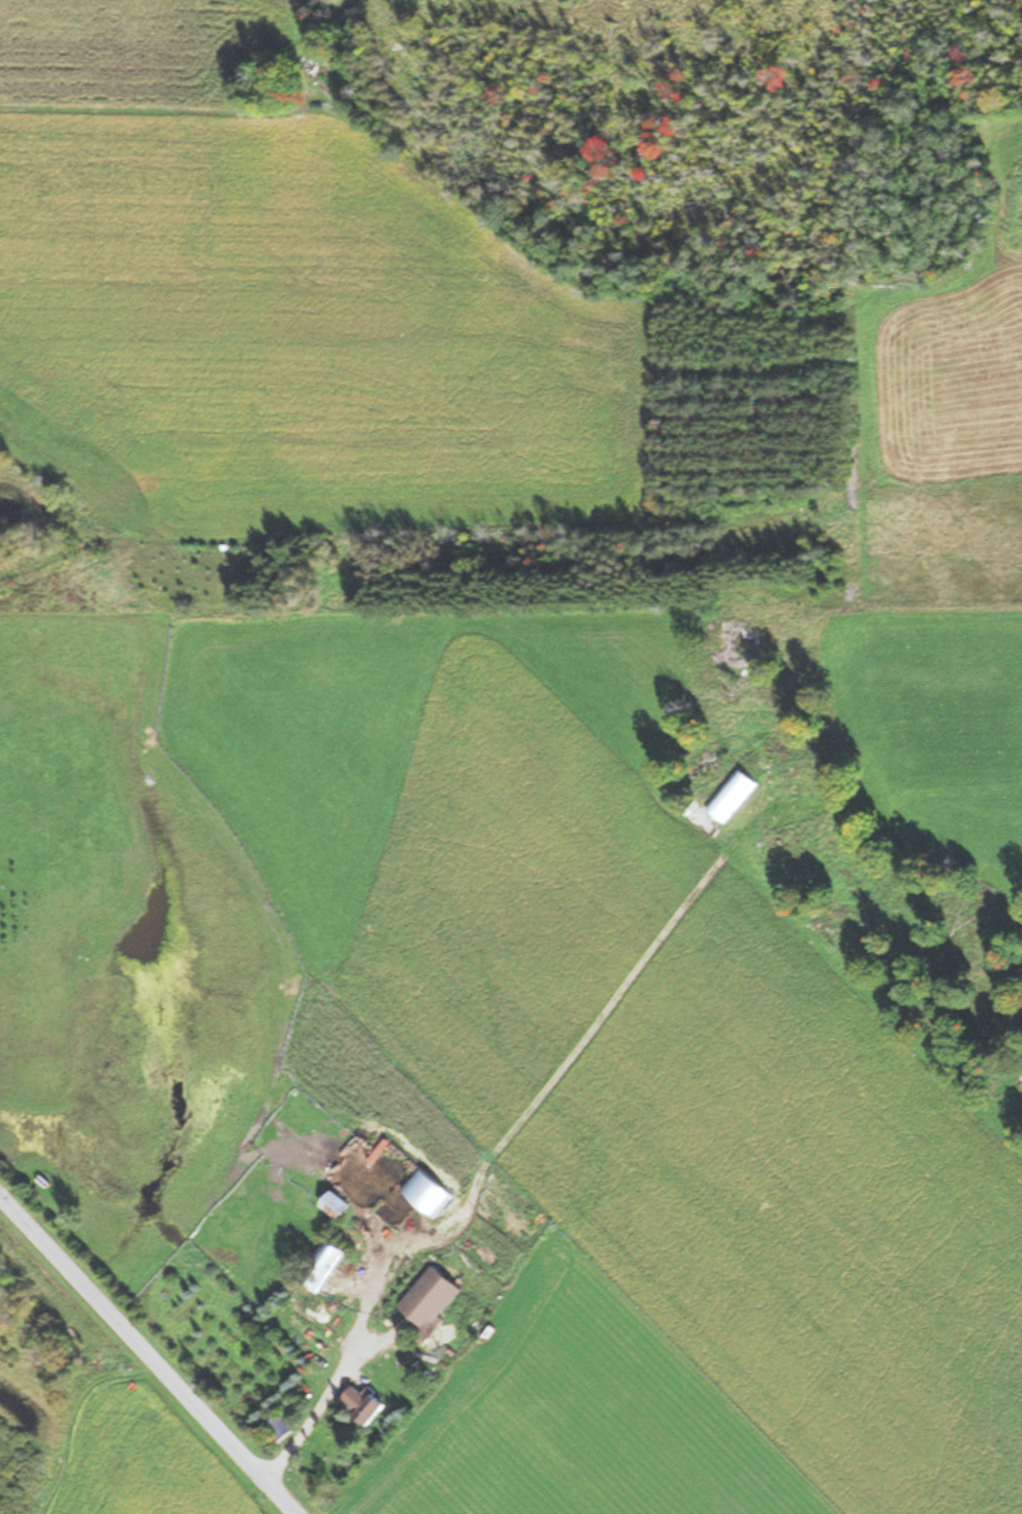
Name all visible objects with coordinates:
building: (408, 1192)
building: (335, 1204)
building: (323, 1265)
building: (430, 1297)
road: (145, 1358)
building: (363, 1402)
building: (276, 1426)

